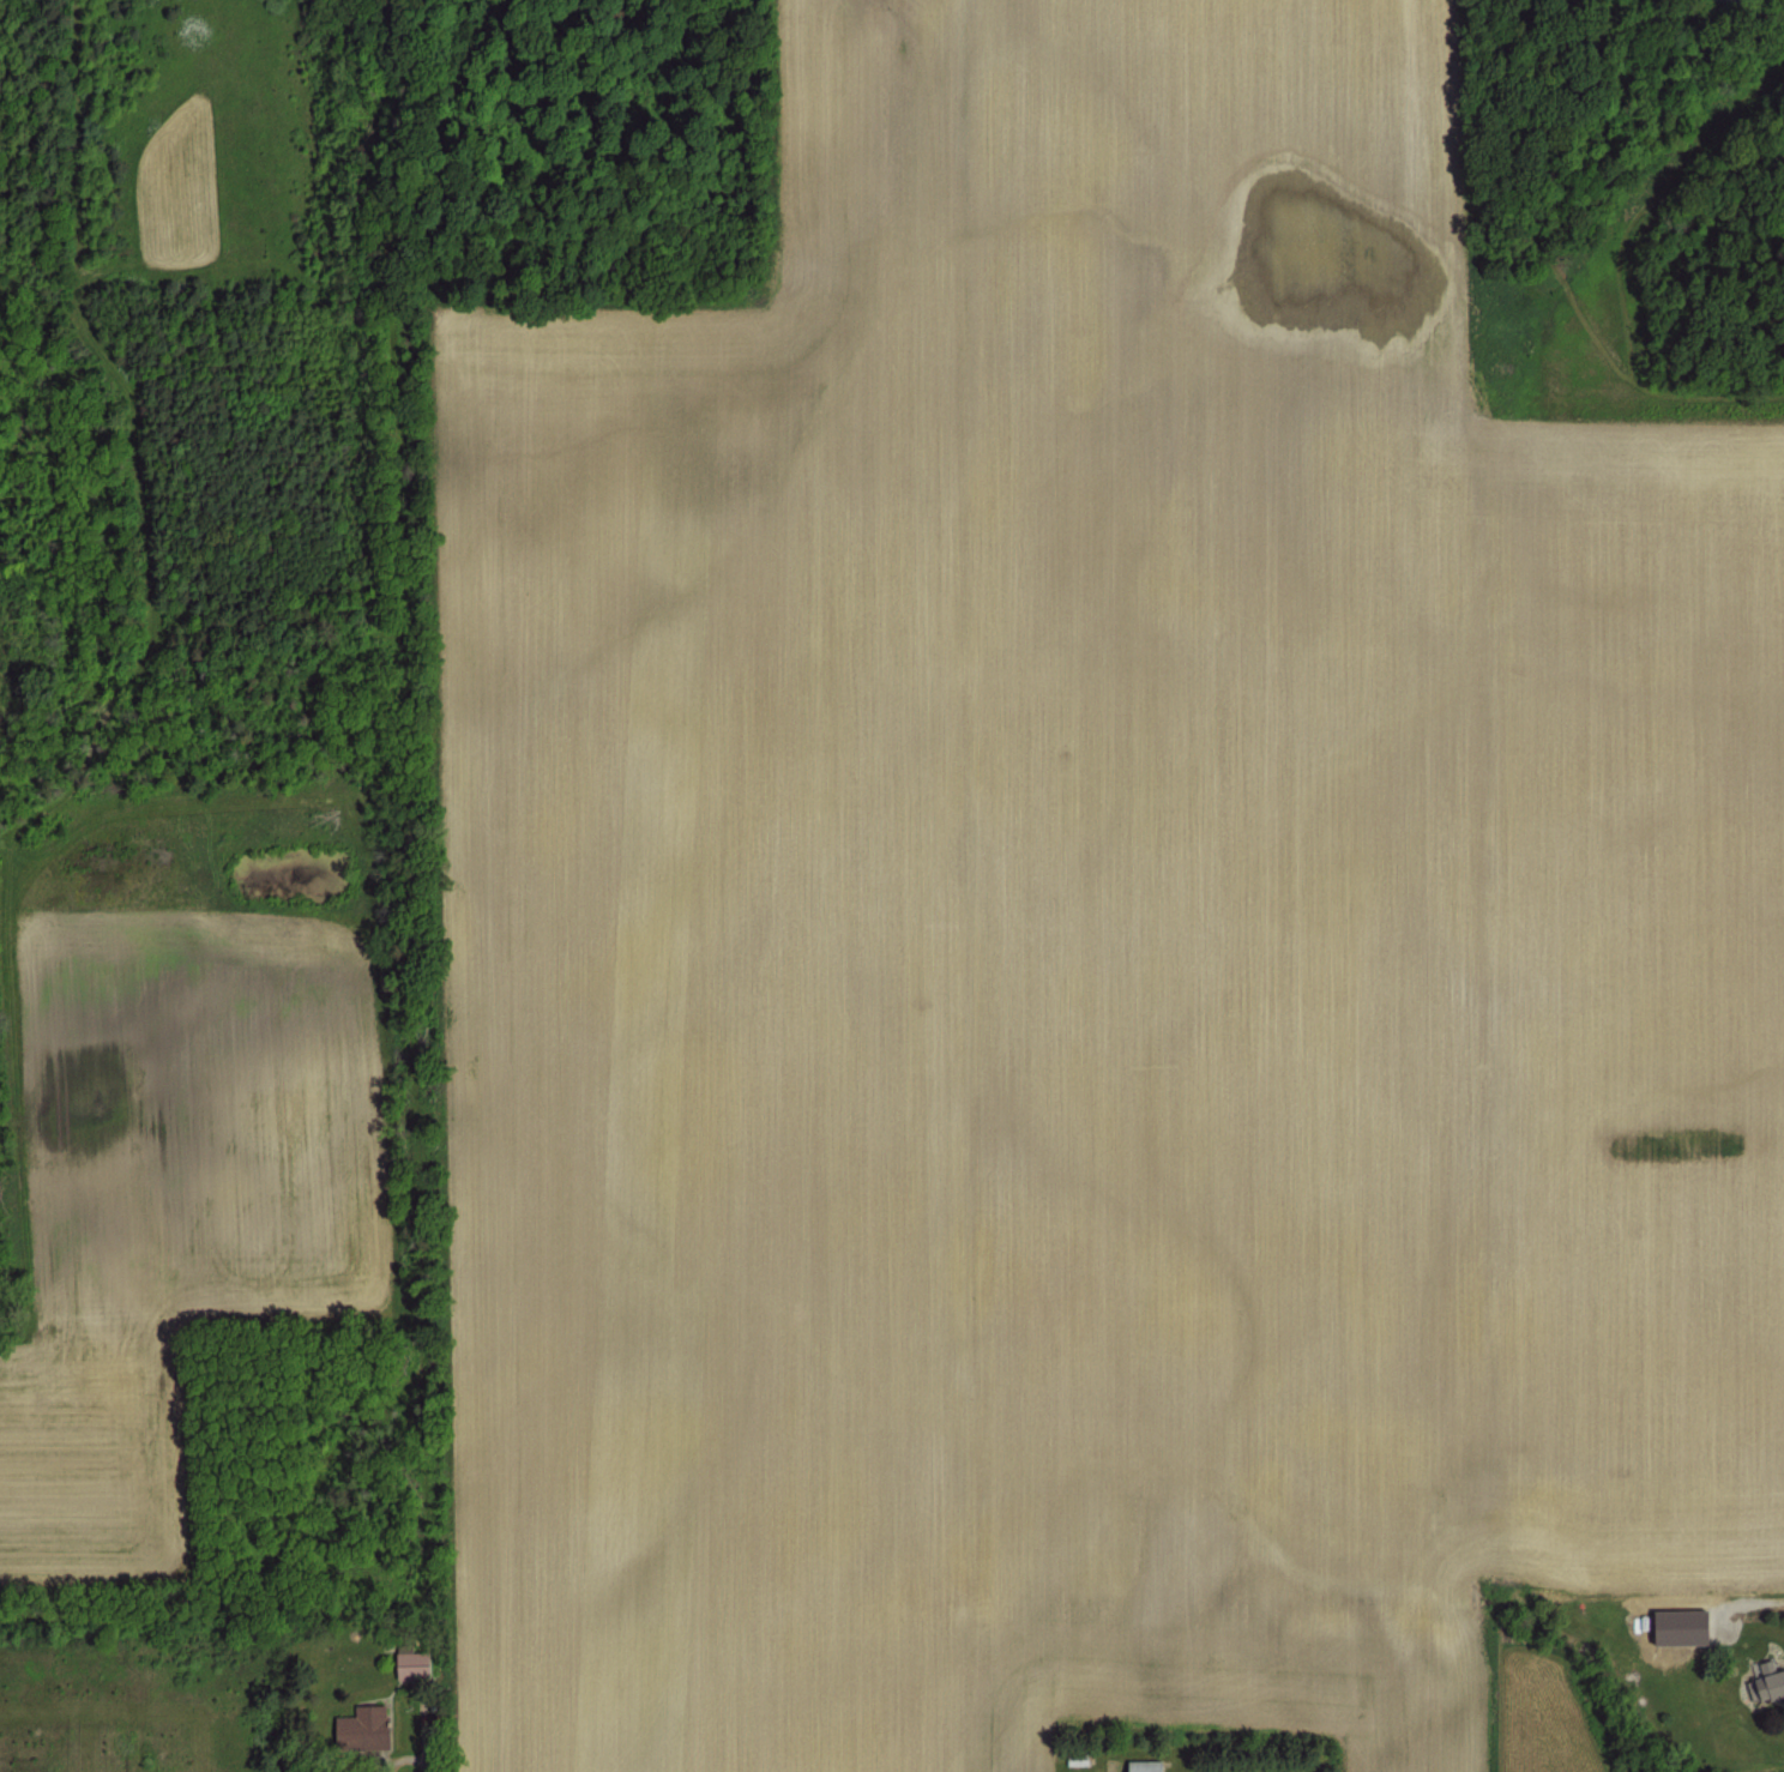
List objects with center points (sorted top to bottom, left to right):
crop: (856, 824)
building: (1676, 1627)
building: (403, 1653)
building: (417, 1665)
building: (1762, 1677)
building: (357, 1724)
building: (1072, 1758)
building: (1080, 1759)
building: (1139, 1765)

